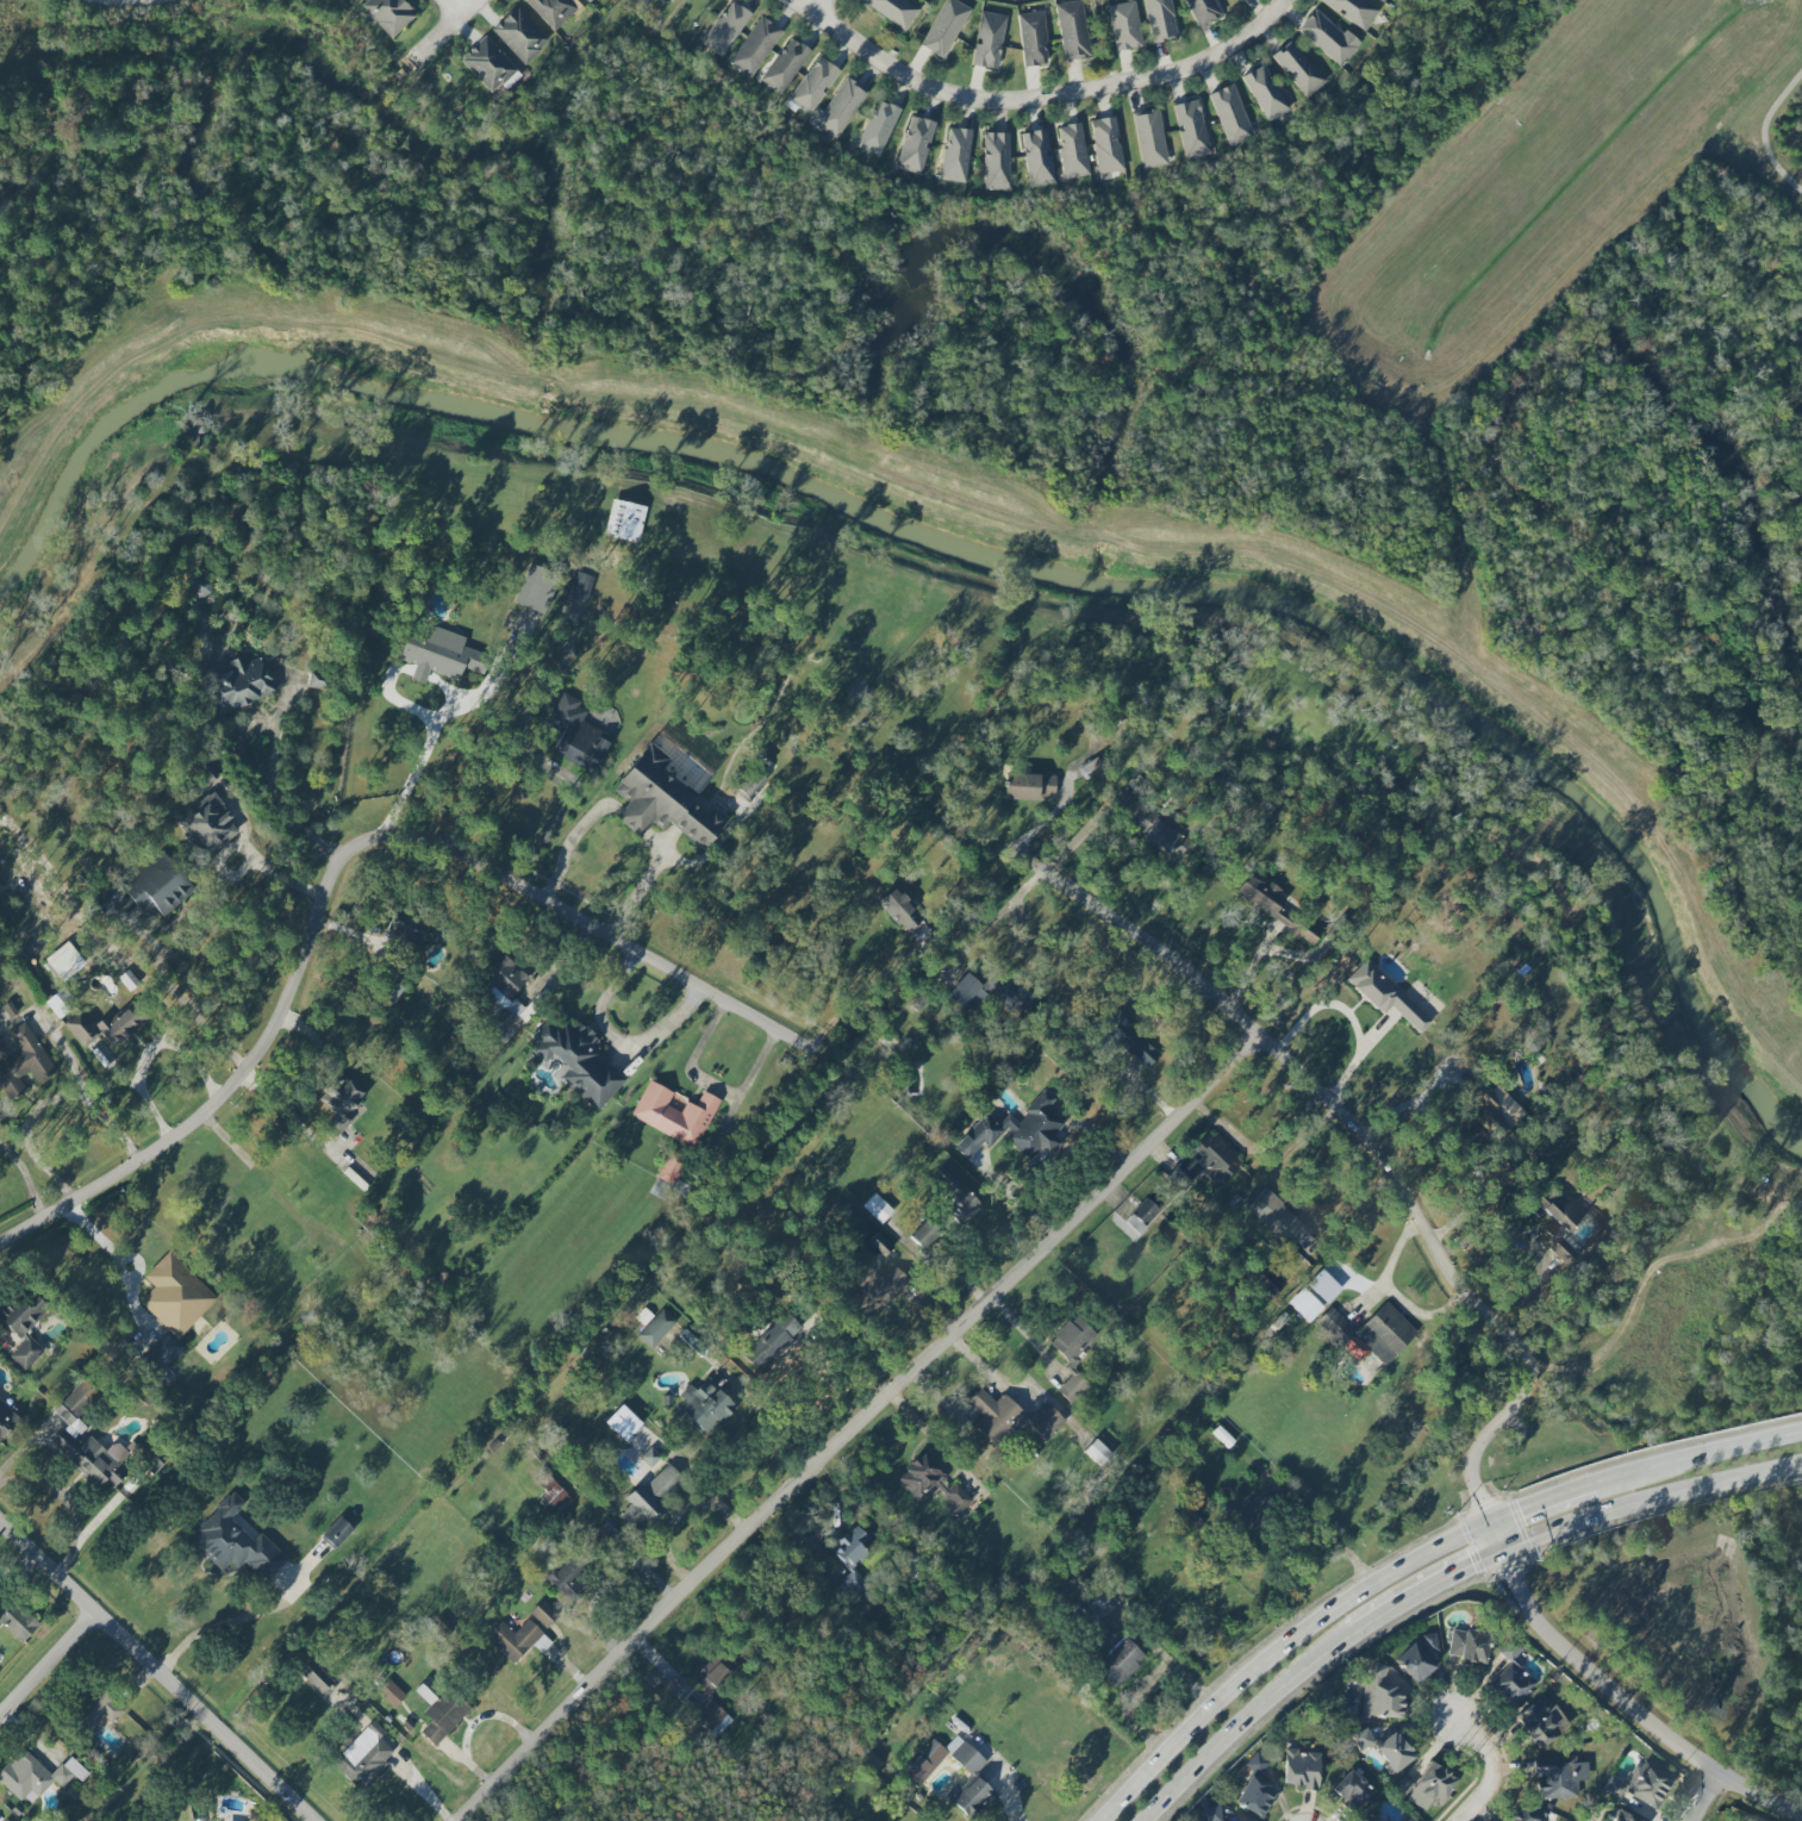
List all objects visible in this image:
building: (922, 0)
building: (1382, 0)
building: (348, 1)
building: (591, 1)
road: (815, 6)
road: (451, 8)
building: (893, 10)
building: (553, 11)
building: (1201, 11)
building: (1354, 11)
building: (388, 14)
building: (1160, 19)
road: (451, 24)
building: (1124, 26)
building: (724, 27)
building: (944, 27)
building: (1072, 30)
building: (519, 35)
building: (1328, 37)
building: (1033, 38)
building: (987, 39)
building: (755, 46)
building: (487, 64)
building: (785, 66)
building: (1298, 68)
building: (813, 85)
building: (1265, 93)
road: (1034, 94)
building: (840, 108)
building: (1230, 114)
building: (878, 127)
building: (1191, 129)
road: (1764, 135)
building: (1149, 138)
building: (915, 145)
building: (1105, 146)
building: (1072, 150)
building: (955, 155)
building: (1037, 158)
building: (996, 161)
river: (618, 437)
building: (624, 520)
building: (199, 585)
building: (535, 590)
road: (551, 684)
building: (237, 685)
building: (575, 735)
road: (486, 756)
building: (205, 768)
road: (410, 779)
building: (749, 782)
building: (1028, 786)
building: (663, 803)
road: (287, 818)
road: (630, 819)
building: (206, 825)
road: (547, 830)
road: (1084, 832)
building: (1159, 834)
river: (1620, 834)
road: (568, 844)
road: (250, 858)
road: (343, 867)
road: (641, 884)
building: (164, 896)
building: (1273, 906)
building: (904, 916)
road: (992, 921)
building: (406, 928)
building: (1385, 994)
building: (504, 996)
road: (179, 1000)
building: (60, 1003)
road: (1347, 1014)
building: (118, 1022)
building: (81, 1029)
building: (1130, 1041)
road: (618, 1047)
road: (149, 1052)
building: (21, 1061)
building: (576, 1061)
road: (1323, 1090)
building: (341, 1100)
road: (43, 1102)
building: (1497, 1111)
building: (674, 1114)
building: (1017, 1128)
road: (1460, 1146)
building: (1202, 1164)
road: (27, 1180)
building: (954, 1193)
building: (877, 1208)
building: (1283, 1224)
building: (1555, 1227)
building: (923, 1234)
building: (879, 1245)
road: (101, 1248)
road: (1533, 1252)
road: (1641, 1261)
road: (1390, 1264)
building: (175, 1295)
road: (1421, 1314)
building: (643, 1316)
building: (656, 1328)
building: (23, 1329)
building: (1370, 1334)
building: (1073, 1339)
building: (772, 1341)
building: (162, 1353)
building: (705, 1405)
building: (6, 1418)
building: (1010, 1418)
building: (623, 1422)
road: (782, 1423)
road: (862, 1424)
road: (1480, 1442)
building: (86, 1443)
building: (1097, 1452)
building: (649, 1457)
road: (1696, 1457)
building: (931, 1483)
building: (553, 1497)
building: (649, 1497)
road: (67, 1502)
road: (1541, 1502)
road: (1652, 1504)
traffic signals: (1492, 1521)
building: (598, 1539)
building: (235, 1542)
traffic signals: (1507, 1553)
building: (850, 1557)
road: (1428, 1591)
building: (543, 1614)
building: (17, 1620)
road: (219, 1630)
building: (516, 1640)
building: (1467, 1646)
road: (1282, 1649)
building: (1417, 1660)
building: (1118, 1661)
road: (49, 1666)
road: (158, 1669)
building: (713, 1673)
road: (1316, 1675)
building: (1511, 1678)
building: (320, 1684)
road: (1438, 1690)
building: (391, 1692)
building: (1380, 1692)
road: (1616, 1697)
building: (94, 1708)
building: (439, 1710)
building: (1541, 1721)
road: (1249, 1723)
building: (1396, 1751)
building: (363, 1757)
building: (924, 1763)
road: (1495, 1766)
building: (1301, 1769)
building: (36, 1776)
building: (1558, 1777)
building: (974, 1784)
building: (1404, 1784)
building: (1433, 1784)
building: (1648, 1784)
building: (1254, 1788)
building: (1351, 1790)
road: (1684, 1797)
road: (1703, 1797)
road: (1005, 1800)
road: (1308, 1806)
road: (1714, 1806)
building: (1211, 1813)
building: (1524, 1814)
building: (1623, 1816)
building: (5, 1820)
building: (1376, 1820)

